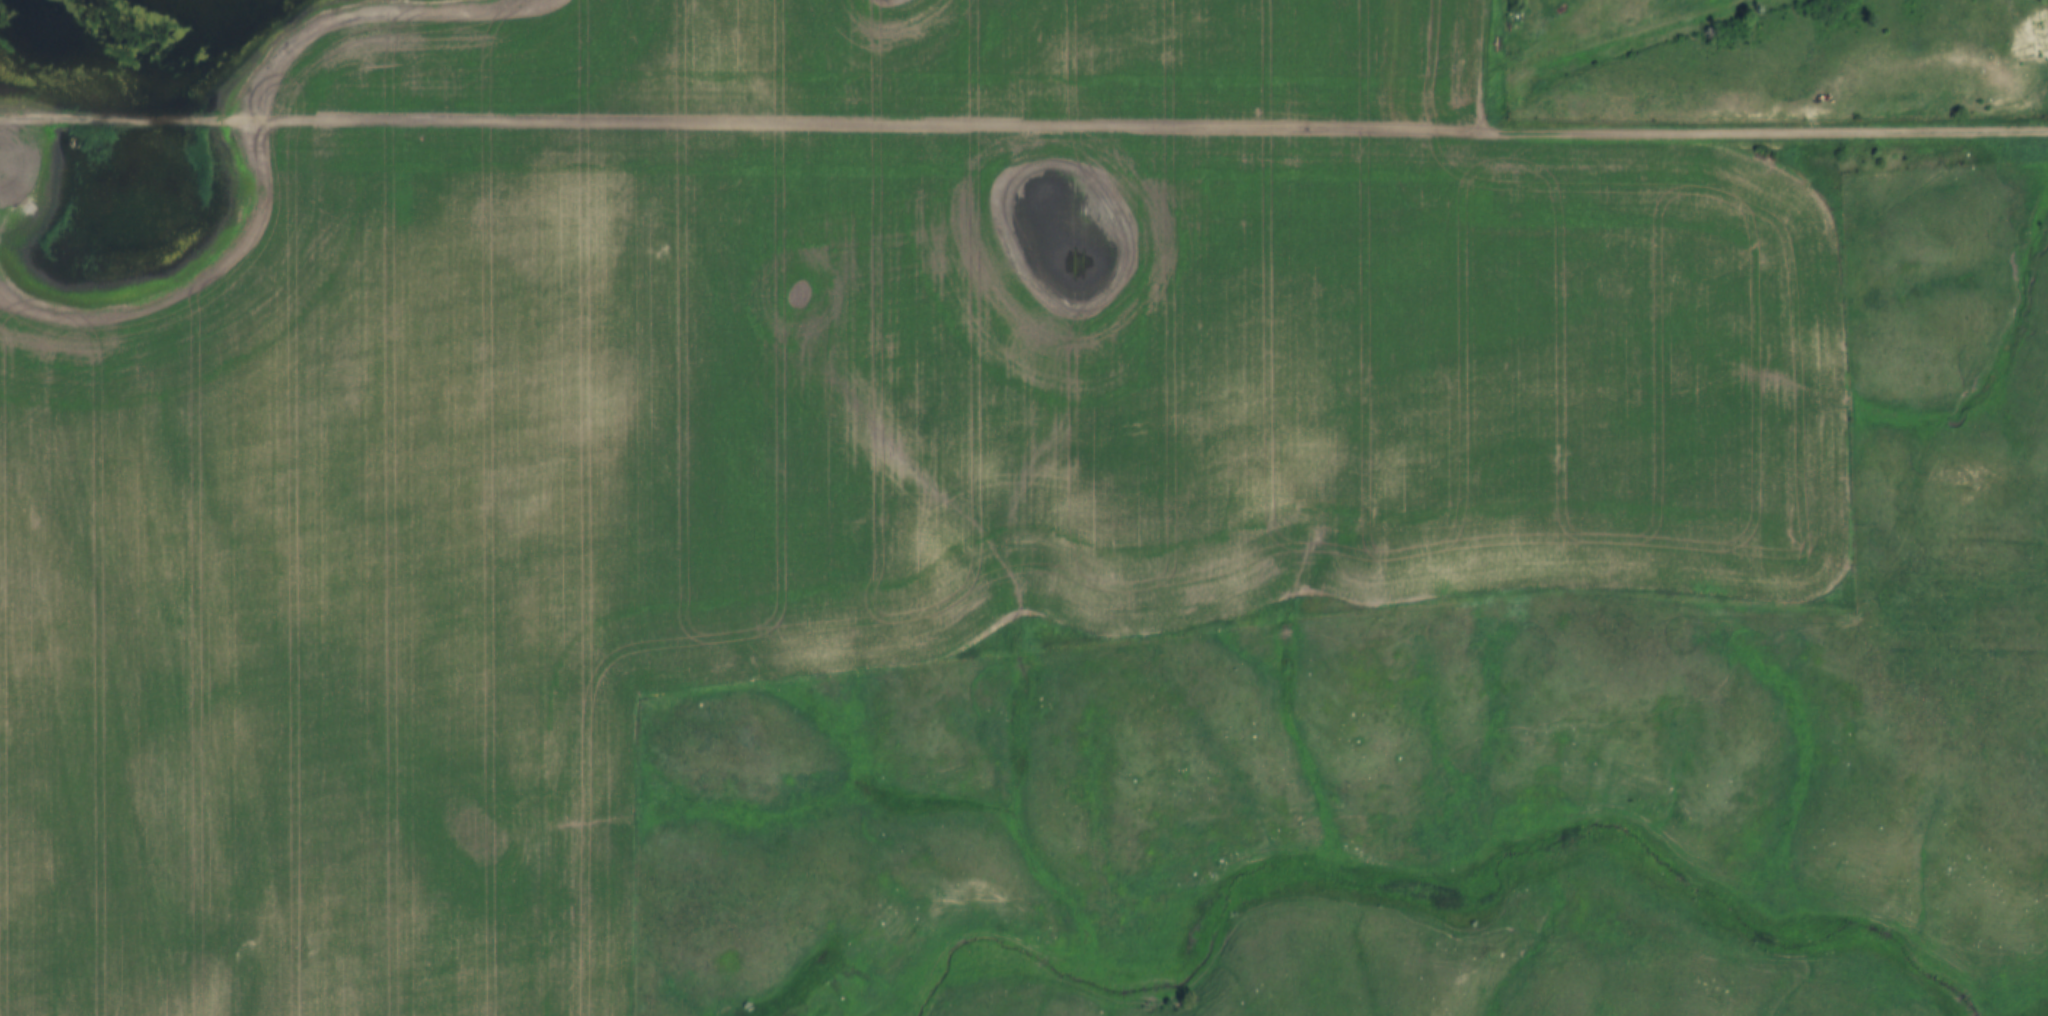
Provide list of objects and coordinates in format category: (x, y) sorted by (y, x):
road: (1580, 43)
road: (1023, 124)

